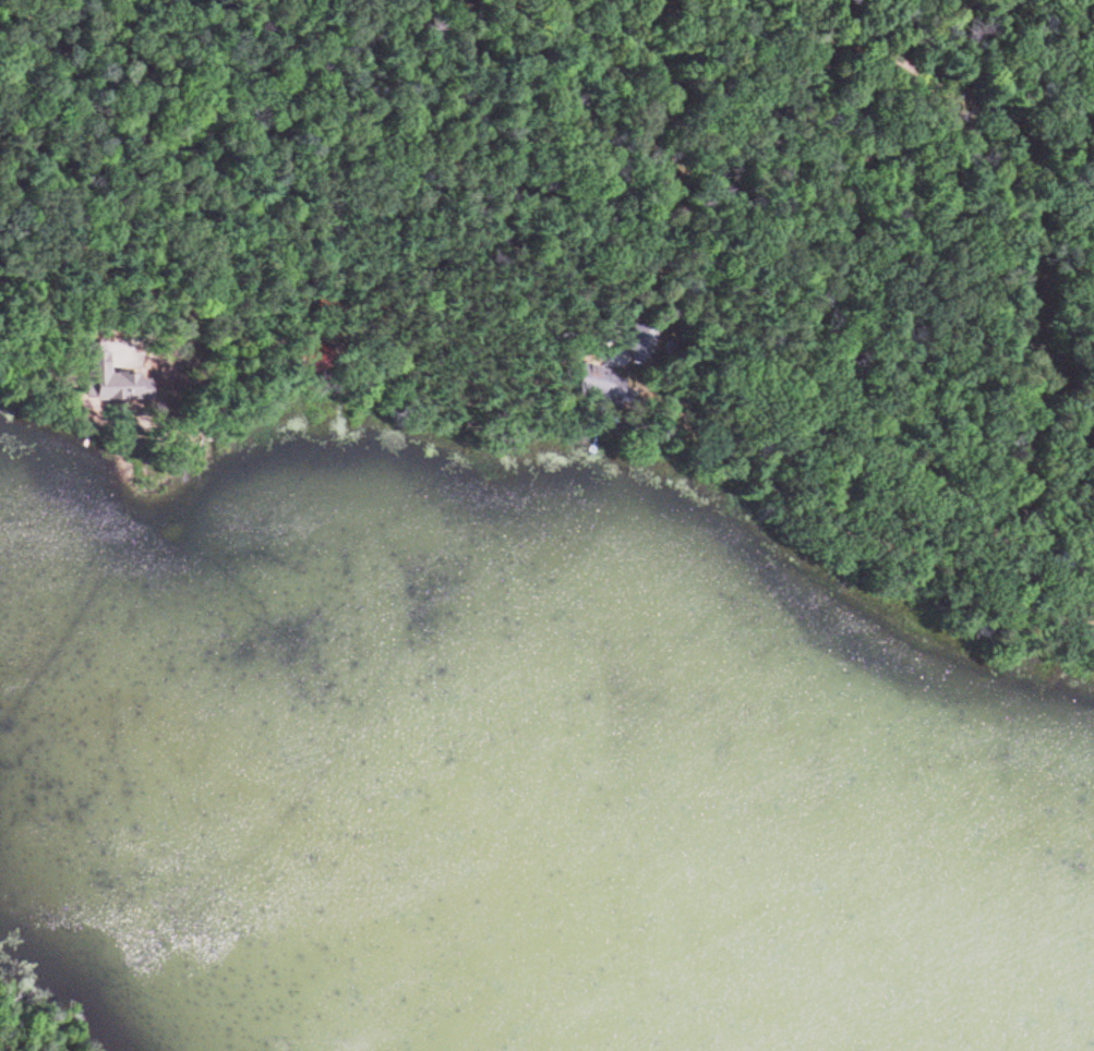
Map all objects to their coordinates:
road: (498, 241)
road: (1026, 424)
building: (1093, 643)

